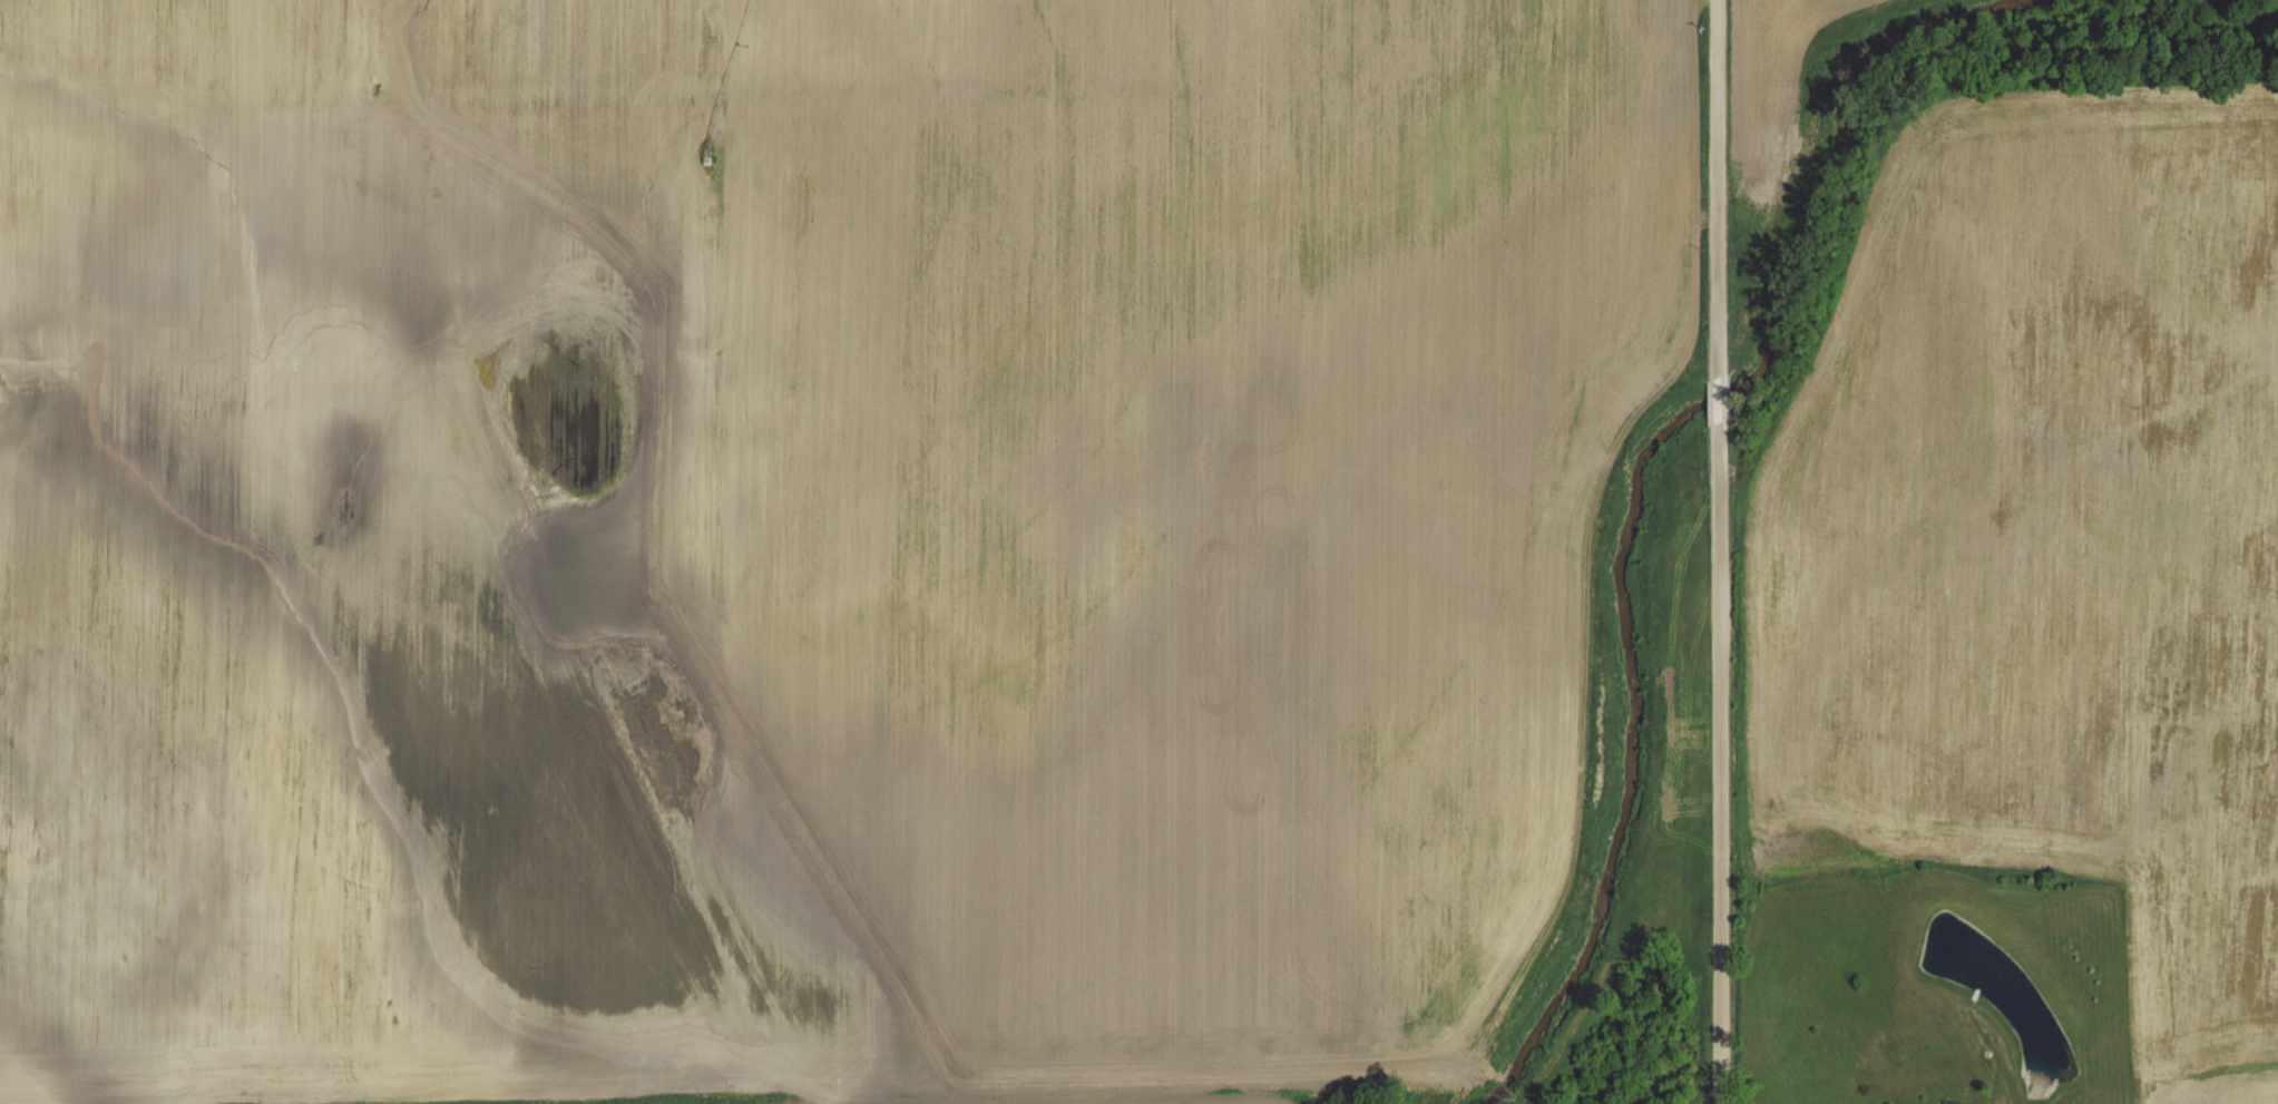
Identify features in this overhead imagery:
road: (1717, 182)
road: (1718, 393)
road: (1720, 763)
building: (1943, 1103)

